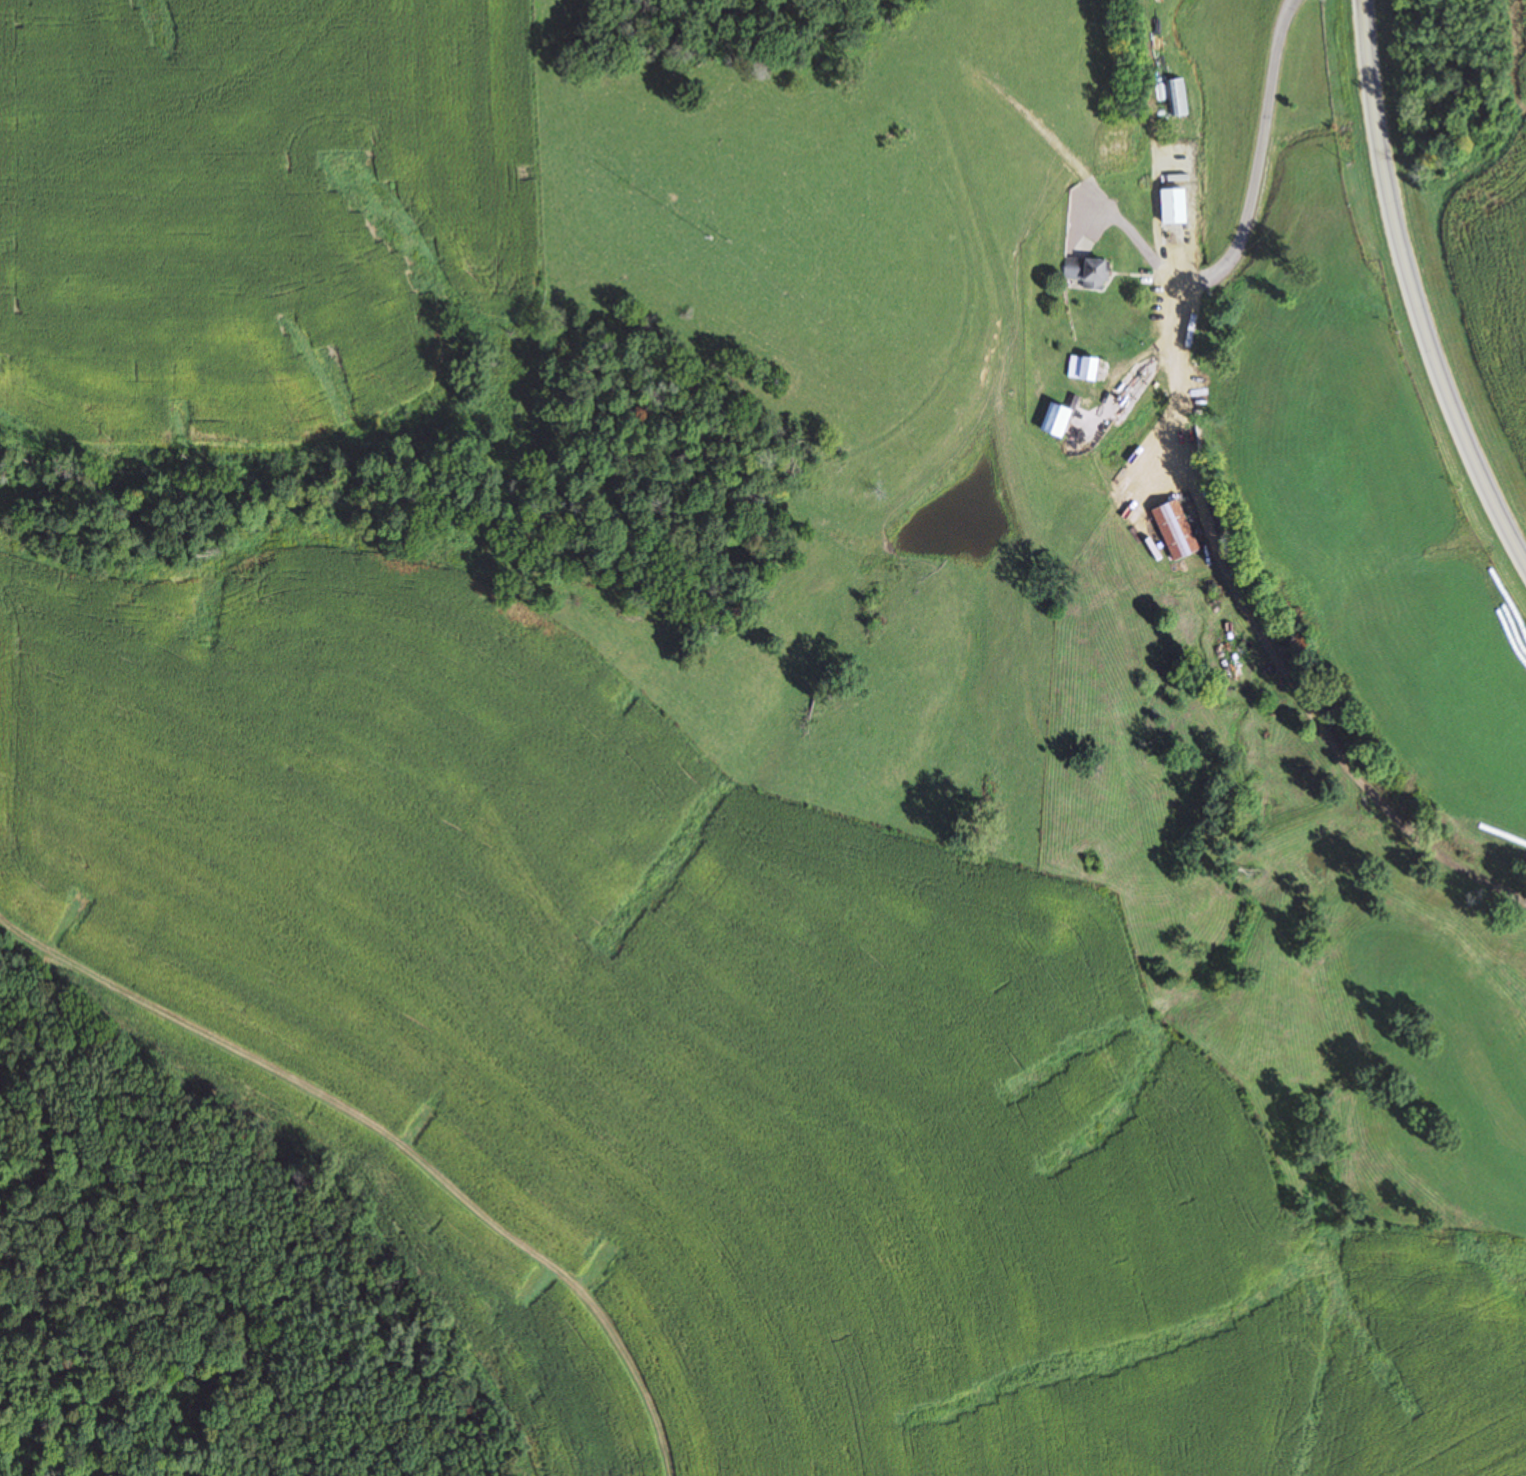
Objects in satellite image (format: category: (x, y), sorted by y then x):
building: (1177, 96)
building: (1170, 205)
building: (1085, 271)
road: (1414, 286)
building: (1080, 368)
building: (1053, 421)
building: (1173, 529)
road: (1180, 529)

